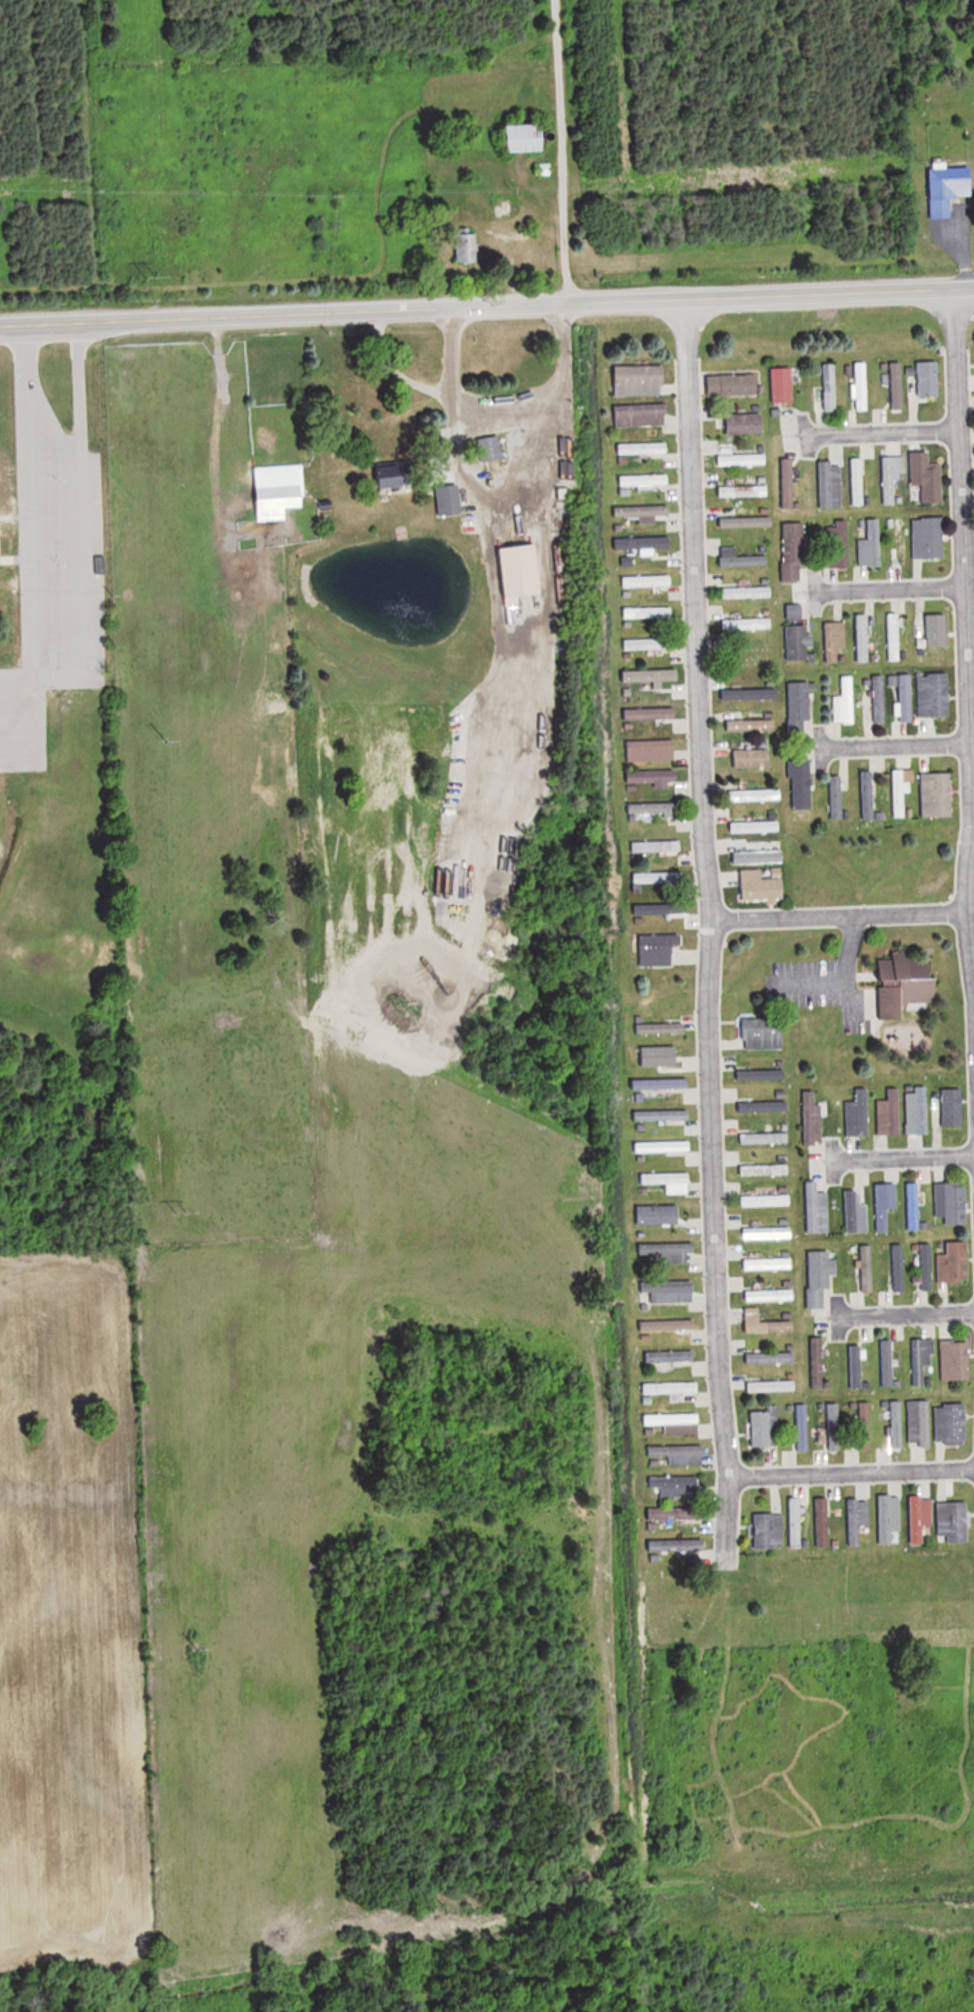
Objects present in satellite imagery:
building: (528, 137)
building: (948, 189)
road: (561, 222)
building: (463, 254)
power tower: (151, 272)
road: (487, 310)
road: (393, 372)
building: (929, 379)
building: (641, 380)
building: (782, 384)
building: (734, 385)
building: (862, 386)
building: (897, 386)
building: (827, 390)
building: (641, 415)
building: (740, 428)
road: (874, 436)
building: (489, 448)
building: (643, 448)
building: (743, 459)
building: (398, 475)
building: (931, 477)
building: (645, 480)
building: (892, 480)
building: (857, 481)
building: (788, 483)
building: (829, 484)
building: (743, 490)
building: (280, 491)
building: (450, 499)
building: (524, 503)
road: (504, 510)
building: (642, 511)
building: (746, 522)
building: (929, 537)
building: (902, 541)
building: (643, 542)
building: (837, 544)
building: (871, 544)
building: (793, 551)
building: (740, 558)
building: (101, 564)
building: (647, 580)
road: (881, 590)
building: (748, 591)
building: (794, 611)
building: (648, 612)
building: (747, 623)
building: (893, 636)
building: (938, 636)
building: (862, 638)
building: (835, 640)
building: (649, 643)
building: (797, 643)
building: (649, 674)
road: (50, 677)
building: (749, 694)
building: (934, 695)
road: (963, 698)
building: (879, 699)
building: (846, 702)
building: (799, 706)
building: (651, 713)
building: (752, 725)
power tower: (167, 736)
road: (887, 749)
building: (652, 750)
building: (752, 758)
building: (654, 777)
building: (801, 783)
building: (901, 790)
building: (937, 794)
building: (756, 795)
building: (868, 795)
building: (836, 798)
building: (654, 808)
building: (755, 826)
building: (657, 846)
building: (657, 877)
building: (762, 885)
road: (703, 890)
building: (659, 909)
road: (835, 920)
building: (657, 950)
building: (910, 981)
building: (660, 1029)
building: (770, 1032)
building: (659, 1053)
building: (762, 1075)
building: (660, 1085)
building: (763, 1107)
building: (954, 1108)
building: (918, 1110)
building: (890, 1113)
building: (858, 1114)
building: (661, 1116)
building: (813, 1118)
building: (765, 1138)
building: (663, 1148)
road: (897, 1161)
building: (816, 1168)
building: (765, 1170)
building: (669, 1182)
building: (767, 1201)
building: (953, 1203)
building: (885, 1205)
building: (914, 1206)
power tower: (190, 1207)
building: (816, 1209)
building: (855, 1214)
building: (768, 1234)
building: (667, 1253)
building: (955, 1264)
building: (769, 1265)
building: (924, 1266)
building: (893, 1268)
building: (820, 1277)
building: (667, 1292)
building: (770, 1296)
road: (898, 1317)
building: (765, 1324)
building: (667, 1325)
building: (670, 1357)
building: (770, 1358)
building: (921, 1360)
building: (955, 1360)
building: (817, 1364)
building: (886, 1364)
building: (855, 1367)
building: (771, 1386)
building: (671, 1388)
building: (676, 1423)
building: (919, 1423)
building: (865, 1424)
building: (952, 1424)
building: (896, 1425)
building: (831, 1426)
building: (766, 1427)
building: (800, 1427)
building: (679, 1454)
road: (851, 1478)
building: (676, 1487)
building: (676, 1513)
building: (920, 1518)
building: (888, 1519)
building: (856, 1520)
building: (794, 1522)
building: (954, 1522)
building: (822, 1523)
building: (769, 1530)
building: (677, 1546)
power tower: (200, 1649)

